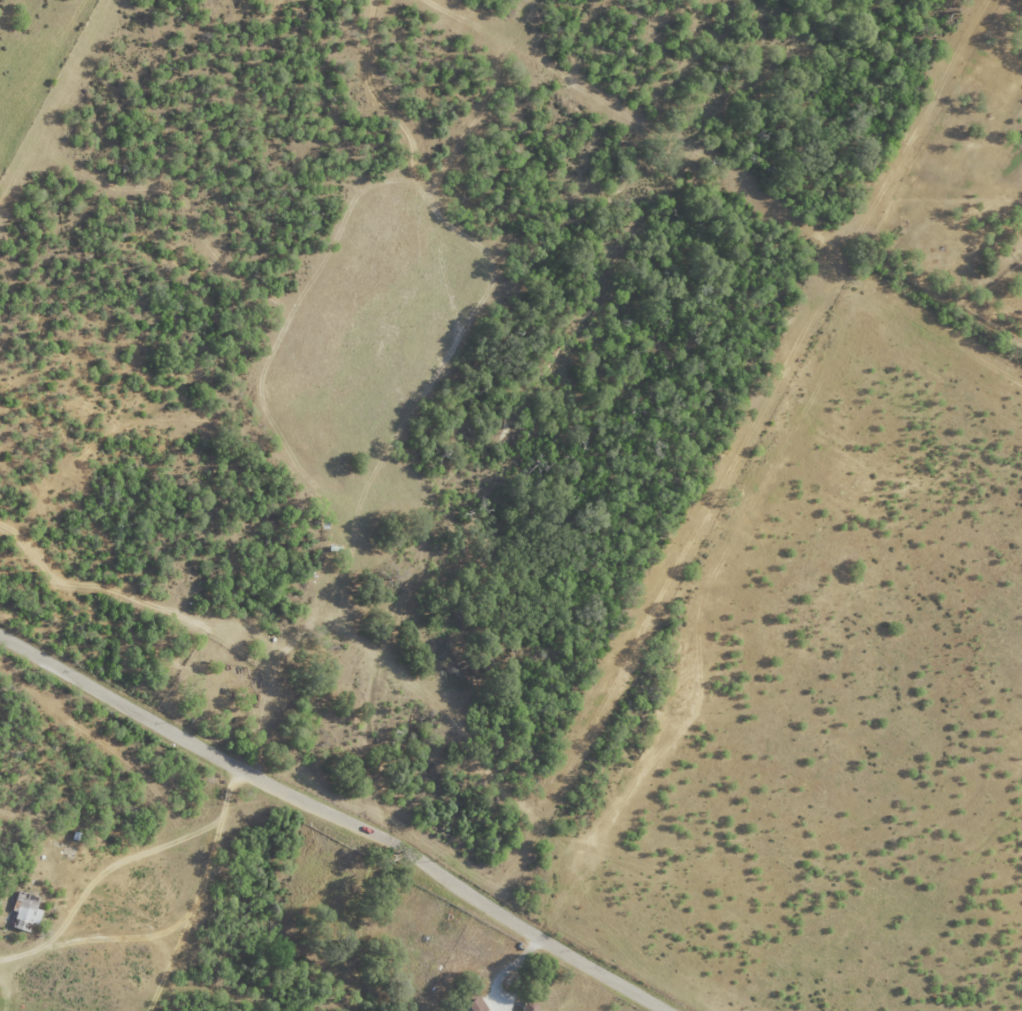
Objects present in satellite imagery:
road: (337, 816)
road: (197, 890)
building: (30, 908)
road: (88, 936)
road: (507, 970)
building: (479, 1005)

